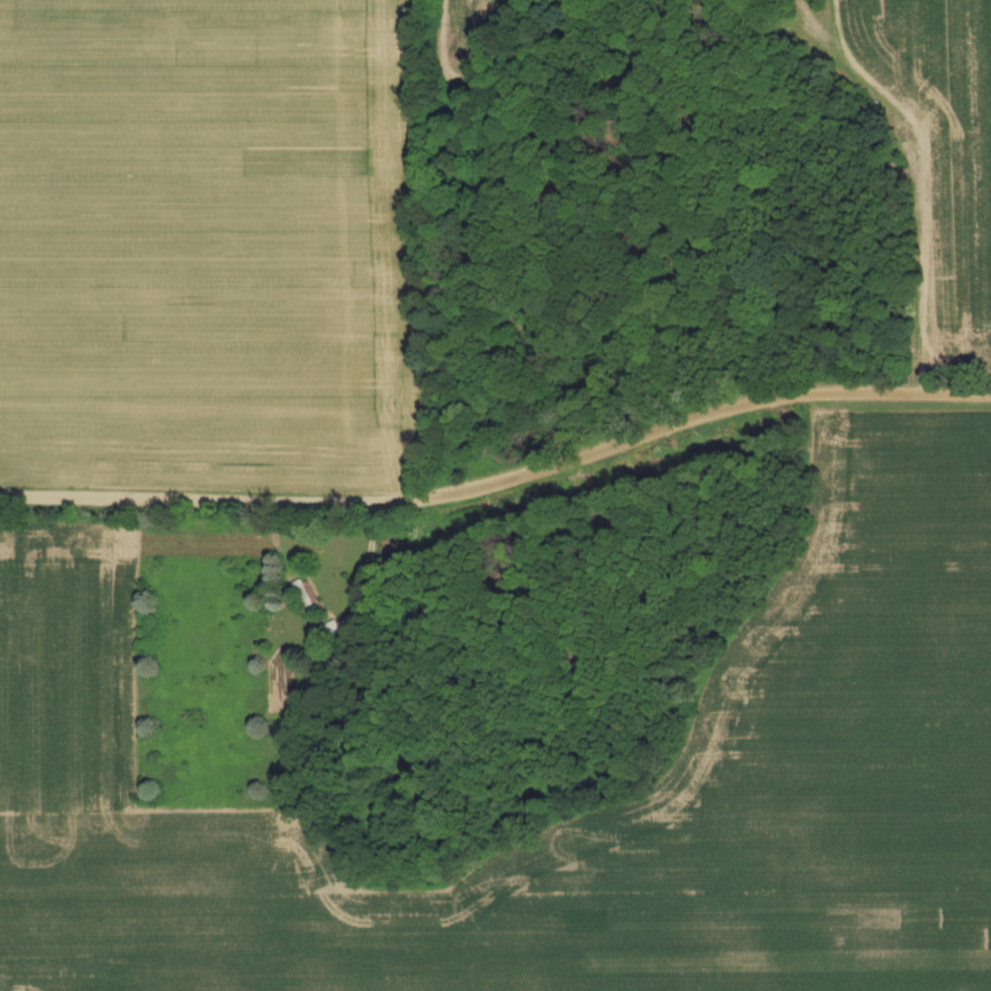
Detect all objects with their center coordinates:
crop: (208, 2)
crop: (466, 40)
crop: (939, 151)
crop: (207, 256)
road: (715, 406)
road: (225, 498)
building: (306, 601)
building: (332, 630)
crop: (851, 685)

